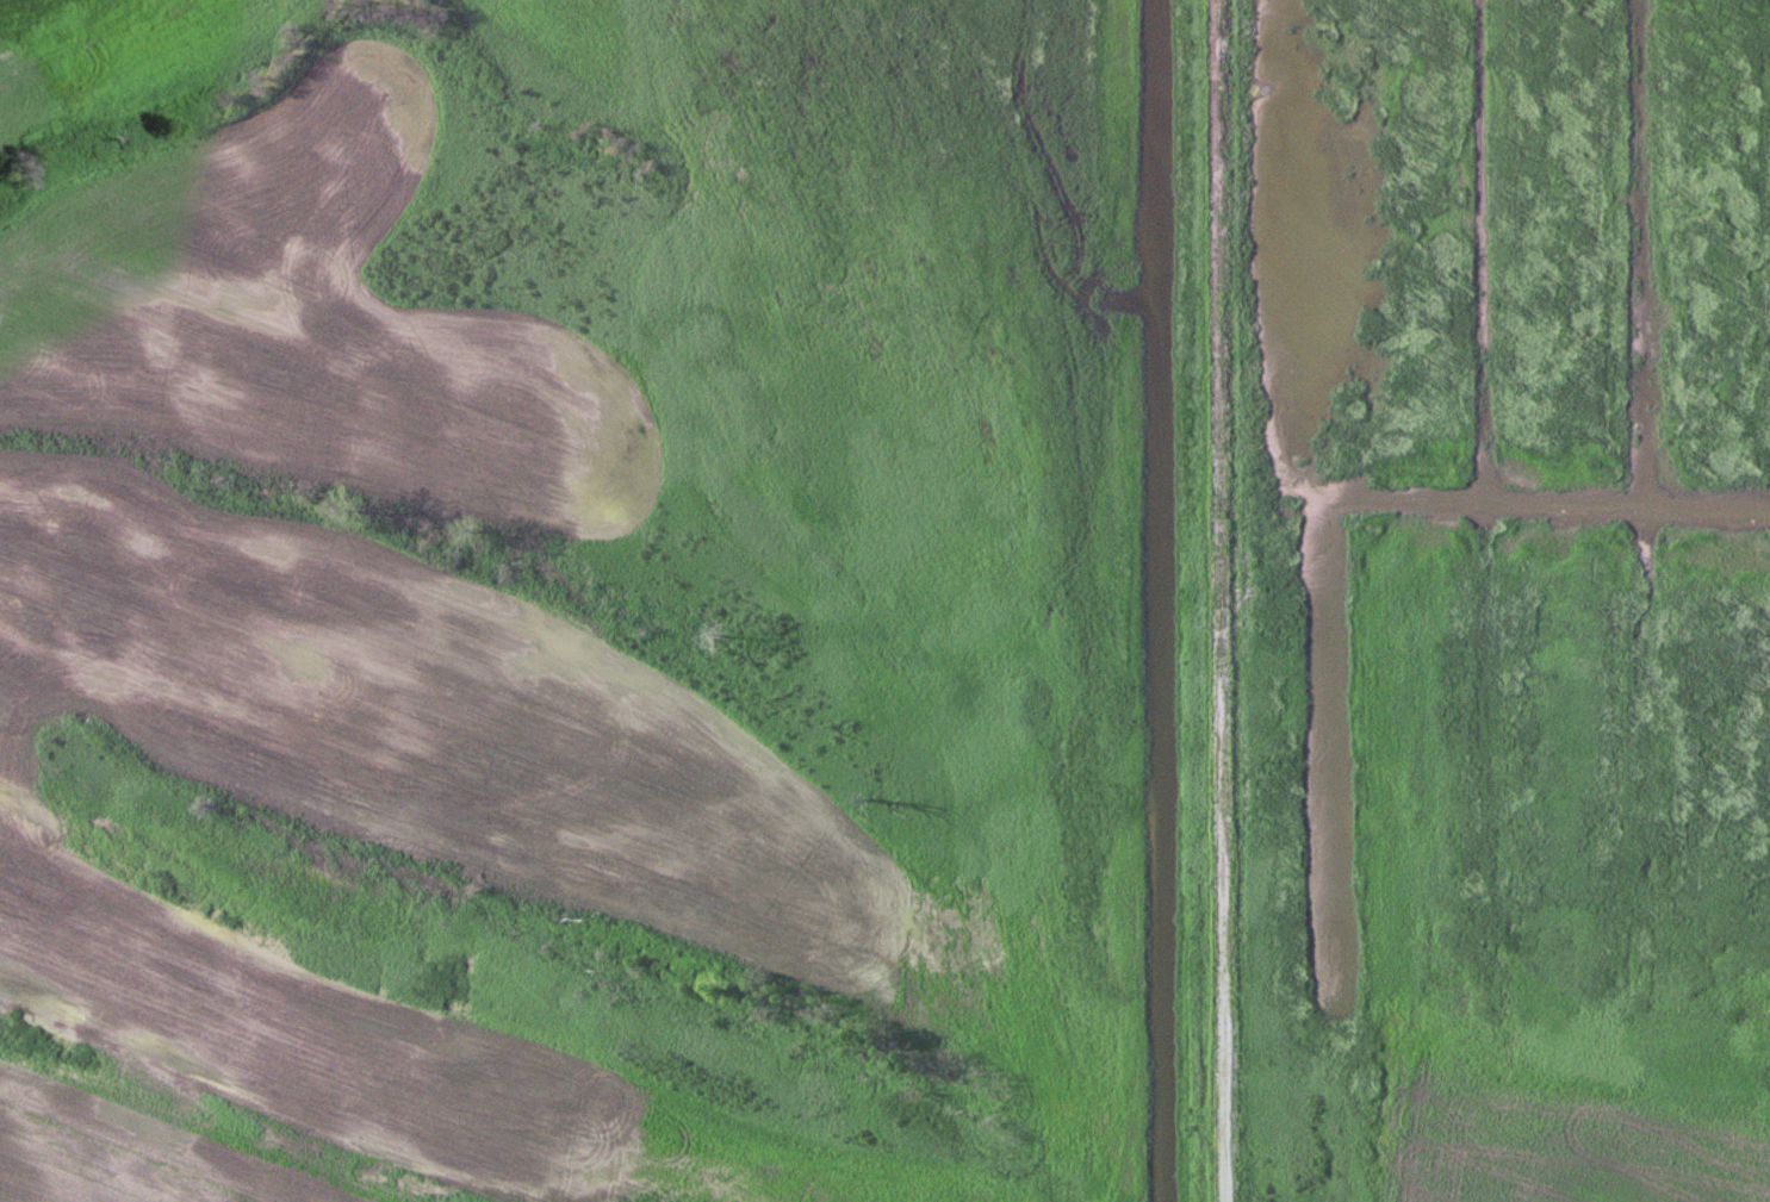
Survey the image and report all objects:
road: (1222, 600)

